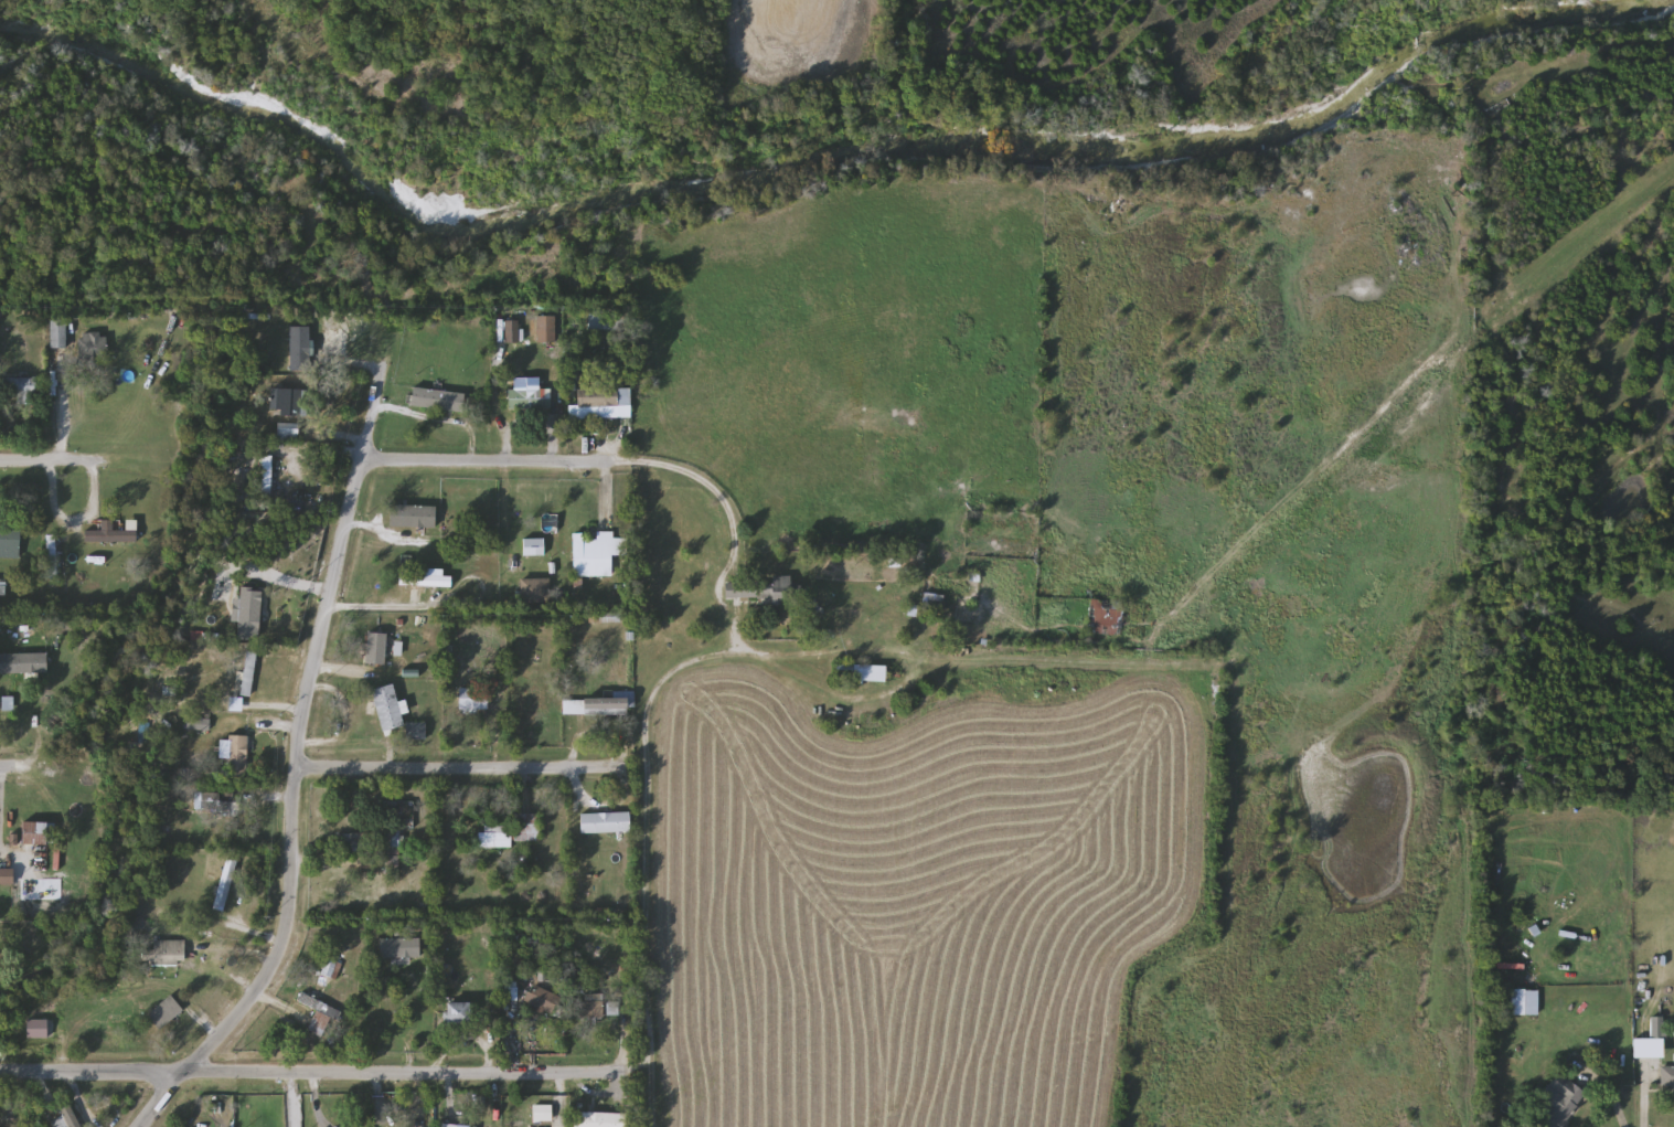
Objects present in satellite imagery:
building: (604, 319)
building: (546, 329)
building: (58, 333)
building: (93, 347)
building: (301, 357)
building: (446, 385)
building: (20, 389)
building: (530, 400)
building: (445, 401)
building: (289, 402)
building: (601, 404)
road: (435, 417)
building: (288, 434)
road: (51, 458)
road: (486, 459)
building: (267, 482)
road: (505, 497)
building: (413, 517)
road: (729, 522)
road: (380, 531)
building: (110, 535)
building: (10, 543)
building: (534, 547)
building: (597, 554)
building: (51, 556)
building: (424, 577)
building: (534, 591)
building: (782, 591)
road: (375, 604)
building: (932, 606)
building: (1106, 618)
building: (377, 649)
road: (862, 656)
road: (973, 660)
building: (24, 663)
building: (248, 673)
building: (867, 673)
road: (659, 685)
building: (473, 700)
building: (597, 706)
building: (388, 708)
building: (237, 756)
road: (456, 763)
road: (10, 765)
road: (290, 768)
road: (642, 776)
building: (607, 826)
building: (529, 828)
building: (40, 832)
building: (495, 838)
building: (356, 843)
road: (647, 936)
building: (401, 948)
building: (167, 954)
road: (201, 965)
building: (327, 972)
building: (544, 1000)
building: (1524, 1002)
building: (594, 1006)
building: (166, 1012)
building: (461, 1014)
building: (321, 1016)
building: (38, 1029)
road: (310, 1072)
building: (1667, 1077)
road: (1609, 1091)
road: (313, 1093)
road: (1644, 1097)
road: (82, 1099)
road: (287, 1099)
road: (559, 1099)
building: (1563, 1102)
building: (67, 1119)
building: (600, 1119)
building: (456, 1125)

